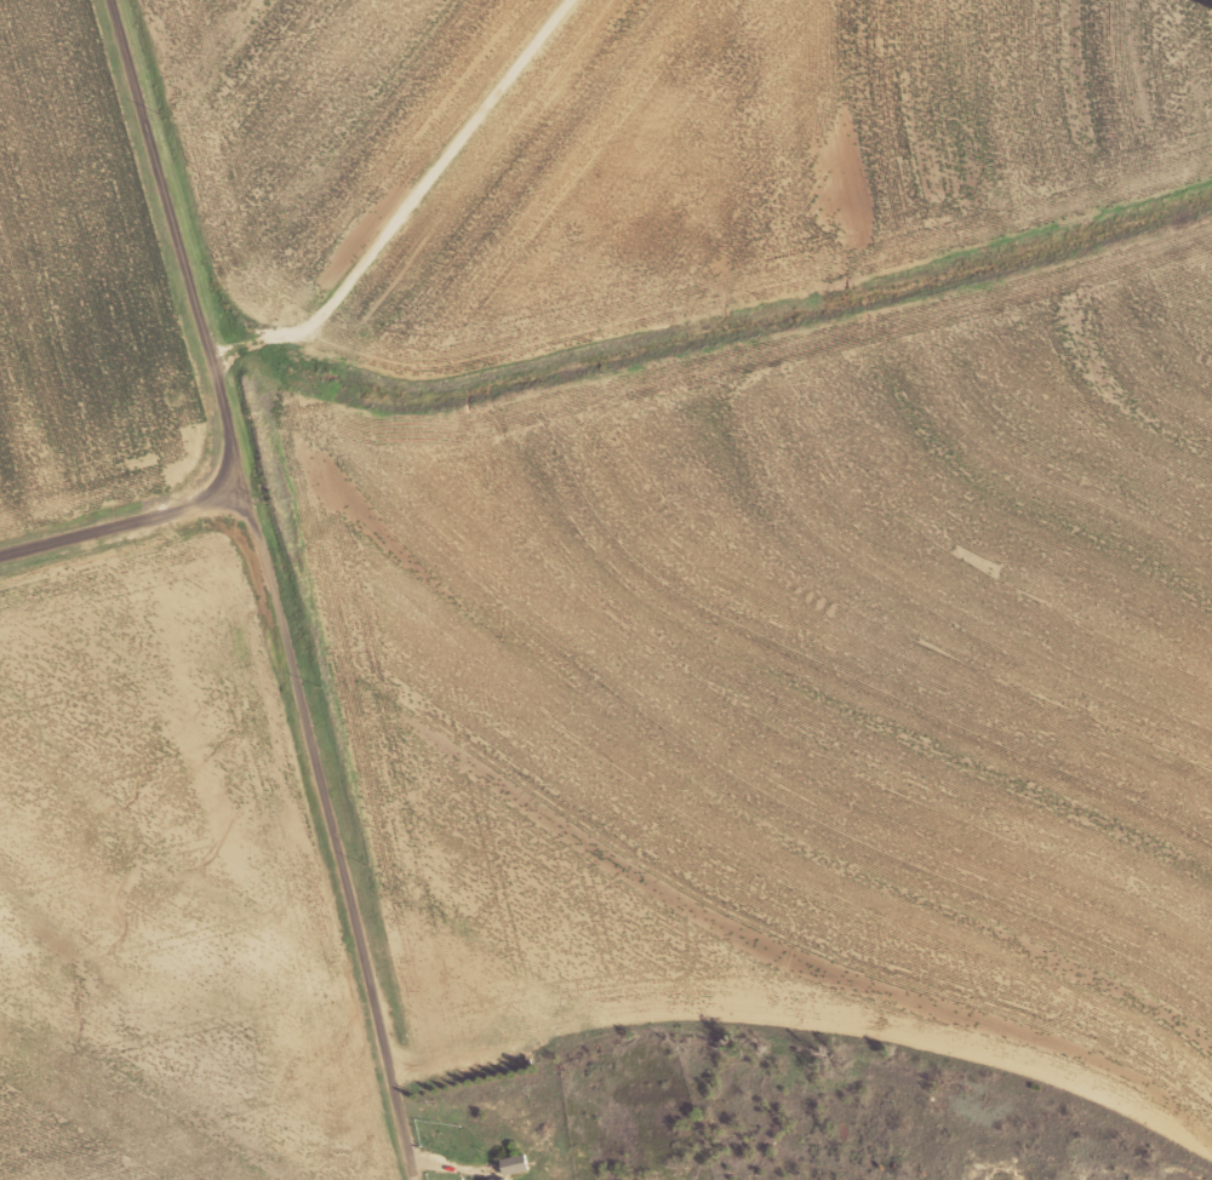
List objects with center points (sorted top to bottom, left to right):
road: (406, 204)
road: (207, 351)
road: (320, 810)

